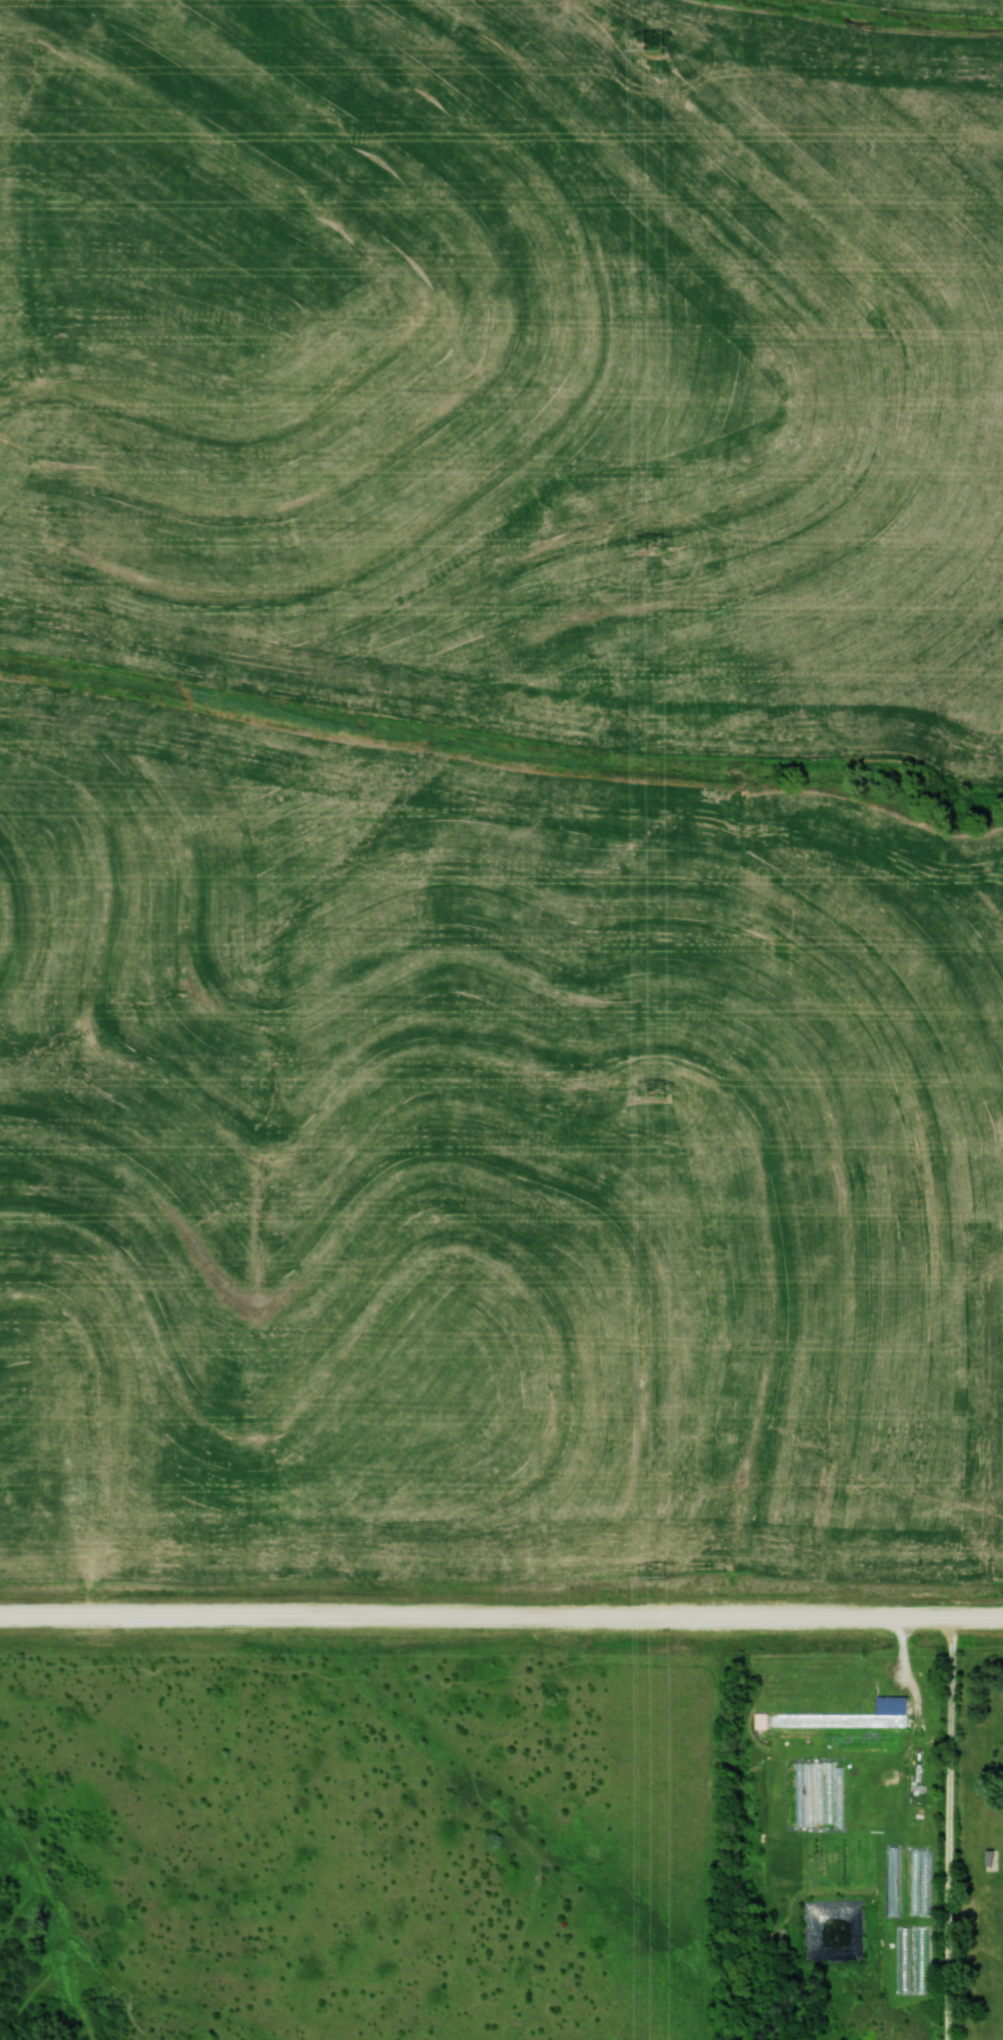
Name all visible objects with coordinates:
power tower: (667, 61)
power tower: (665, 553)
power tower: (663, 1097)
power tower: (665, 1575)
road: (501, 1615)
road: (949, 1827)

